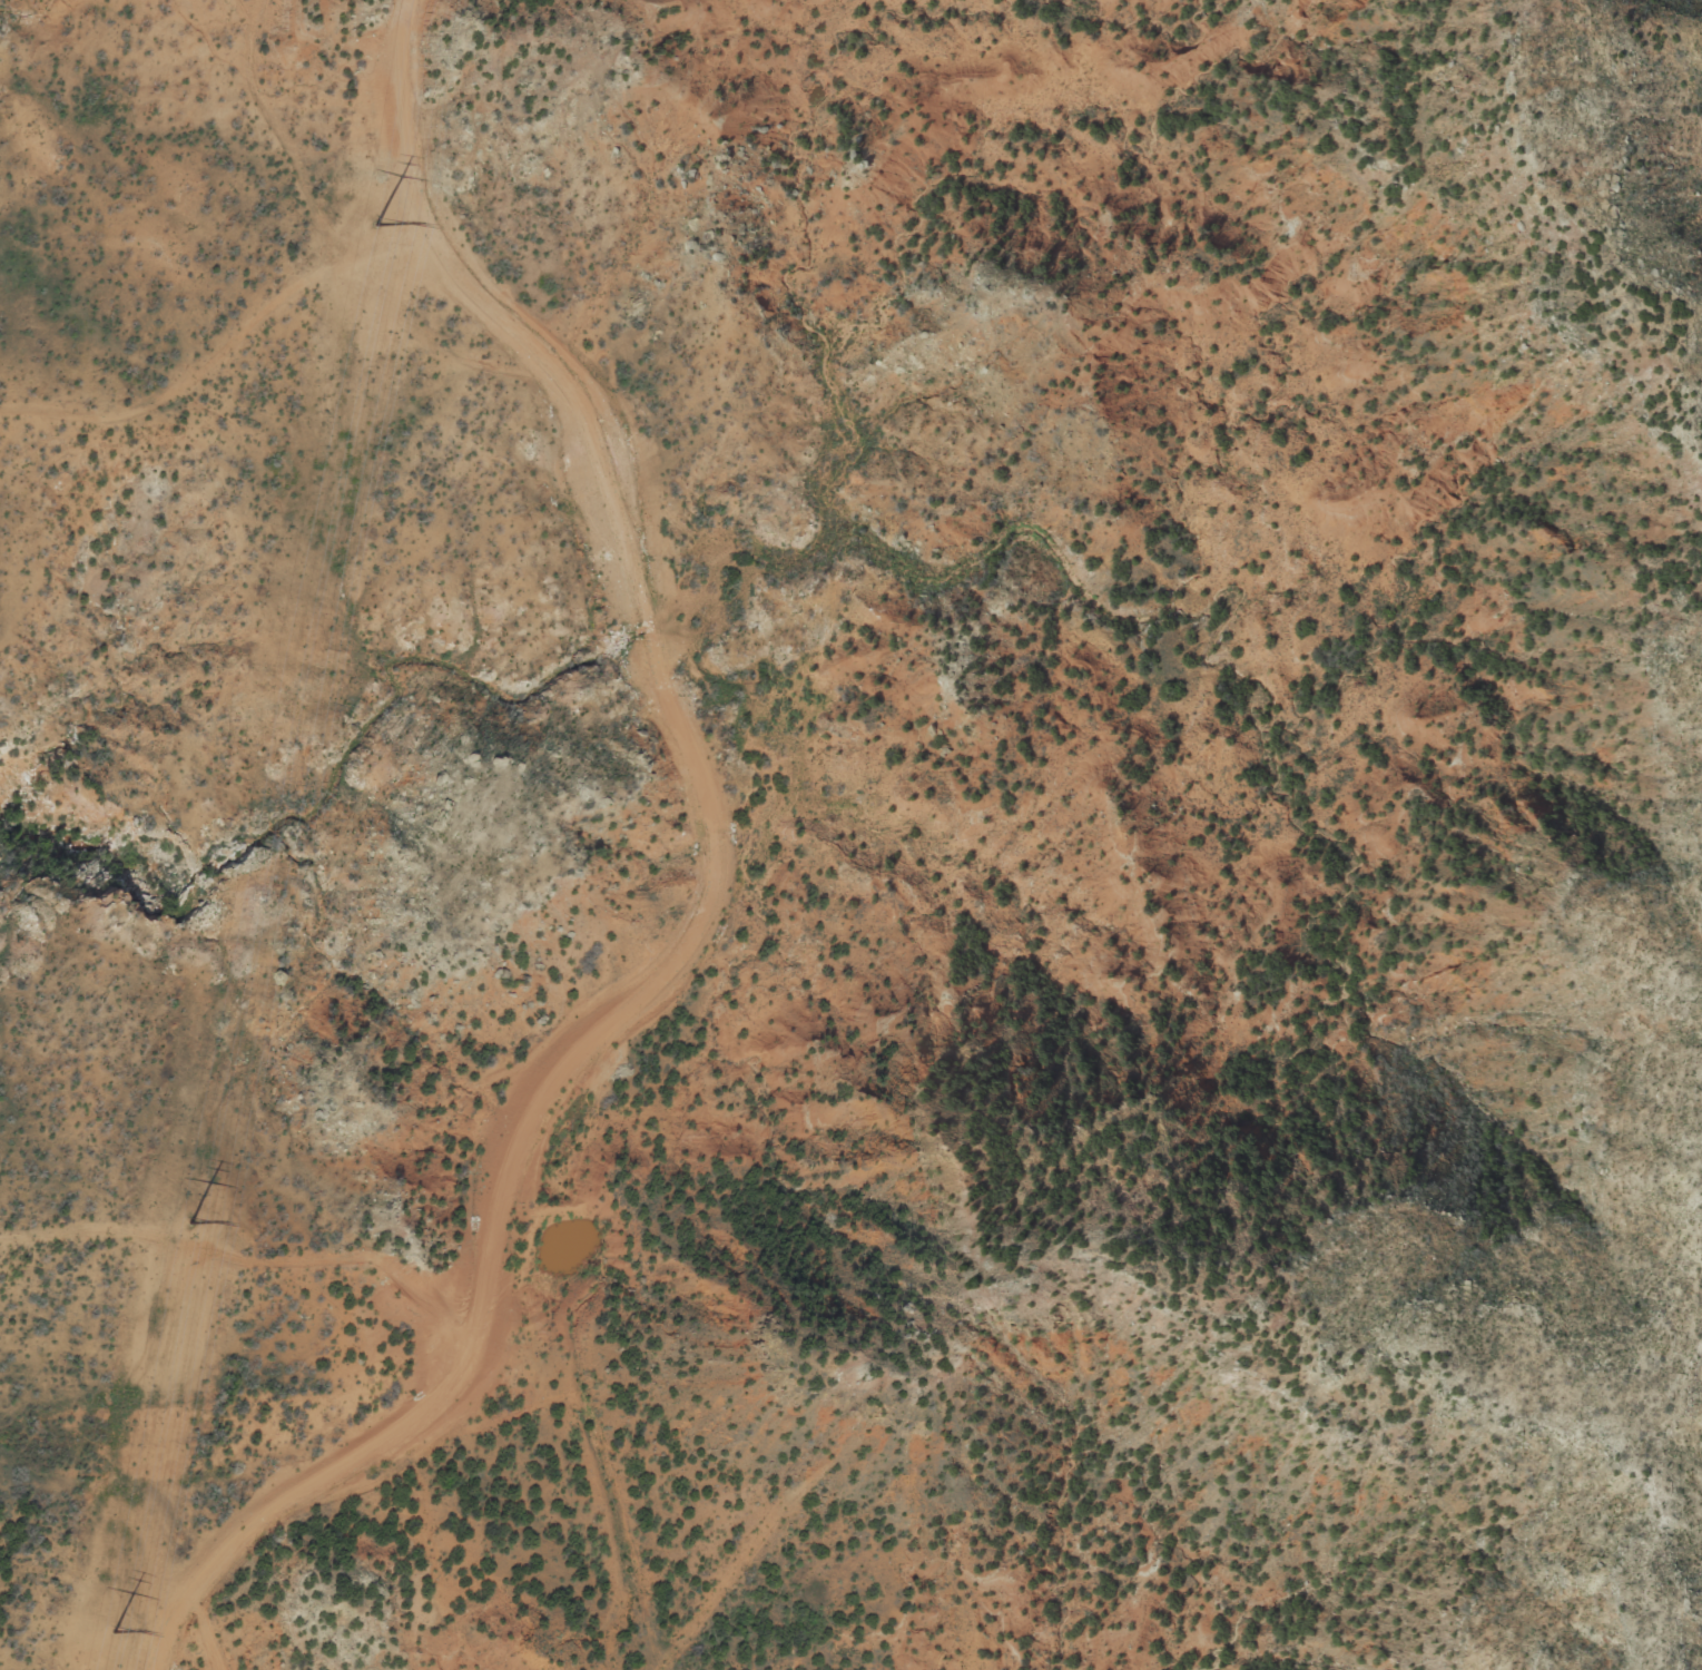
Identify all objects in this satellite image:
power tower: (375, 222)
power tower: (187, 1224)
power tower: (110, 1632)

